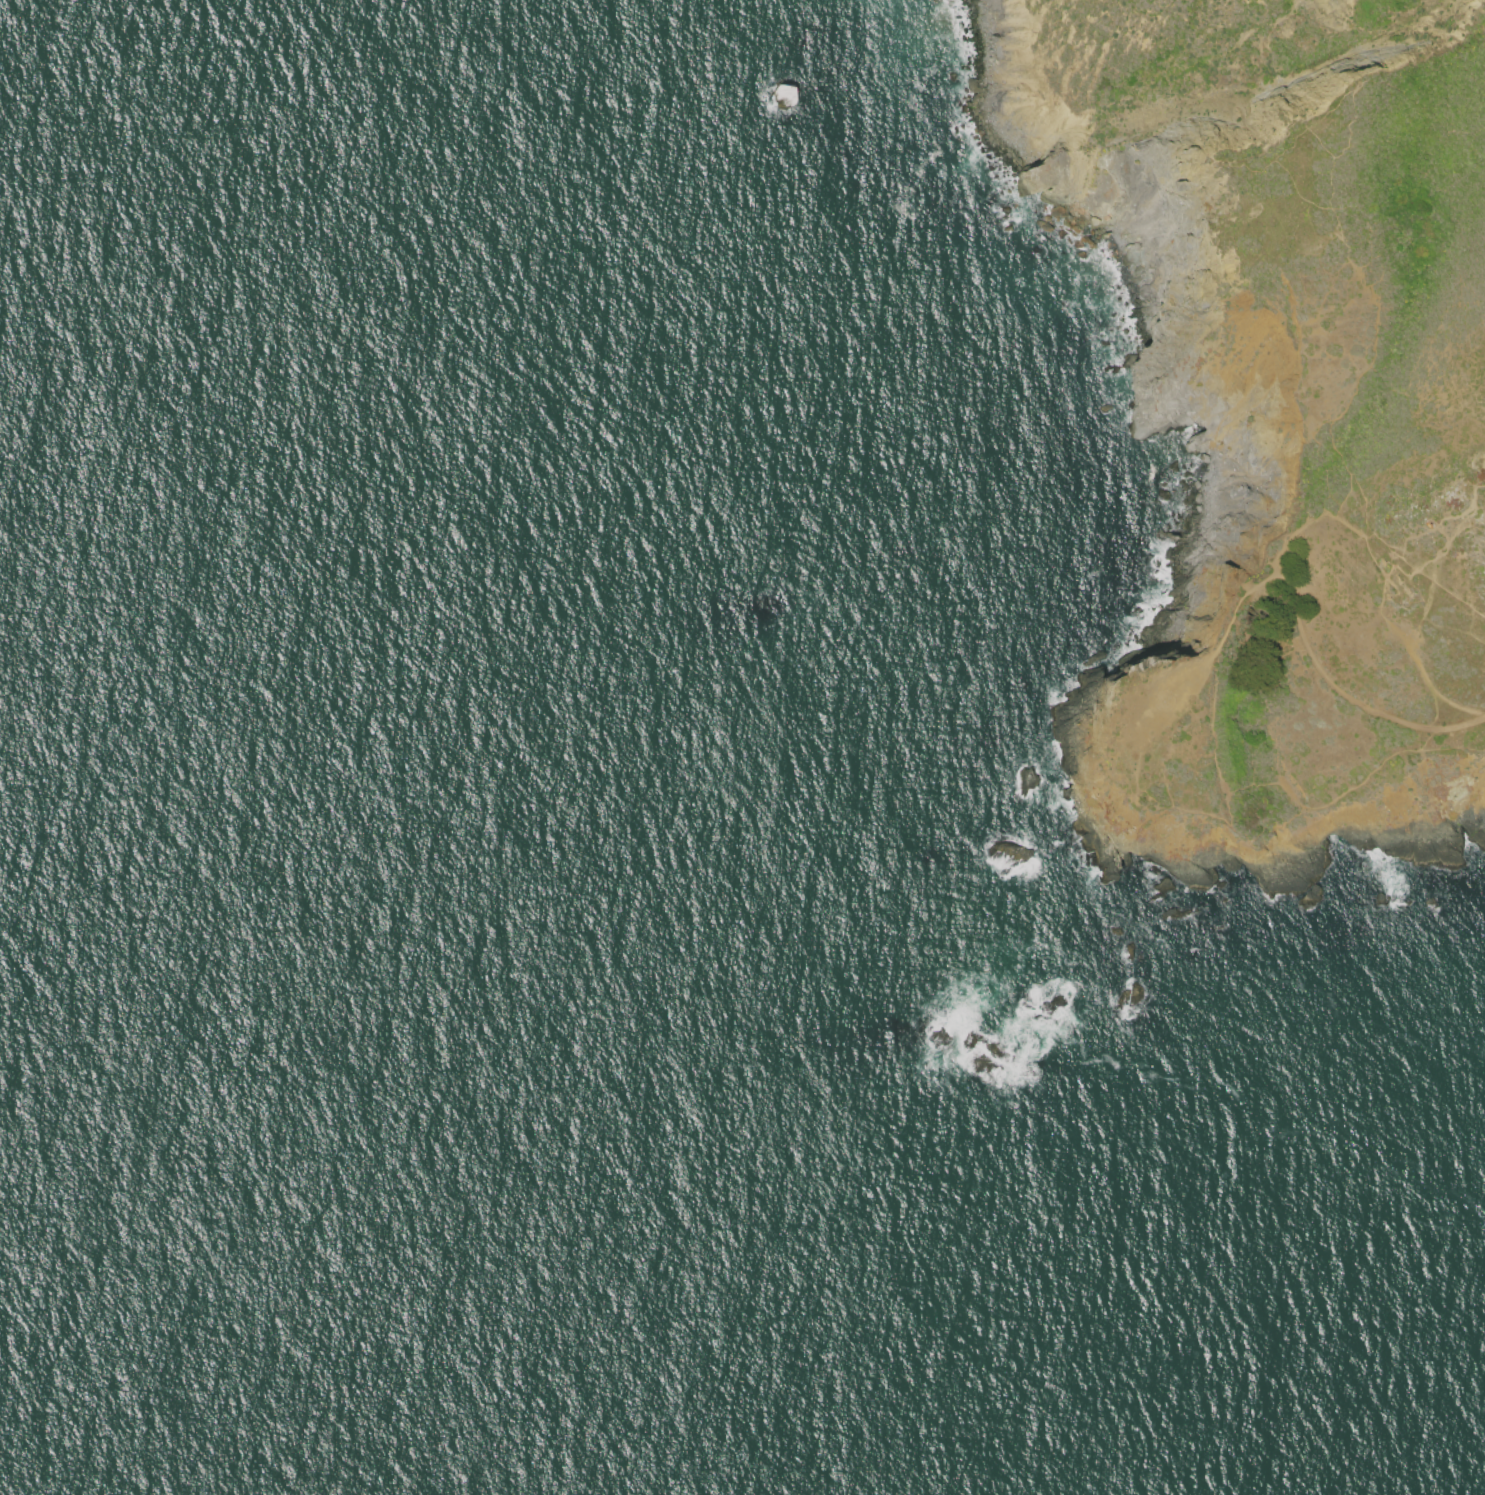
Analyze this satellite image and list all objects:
road: (1223, 630)
road: (1346, 696)

